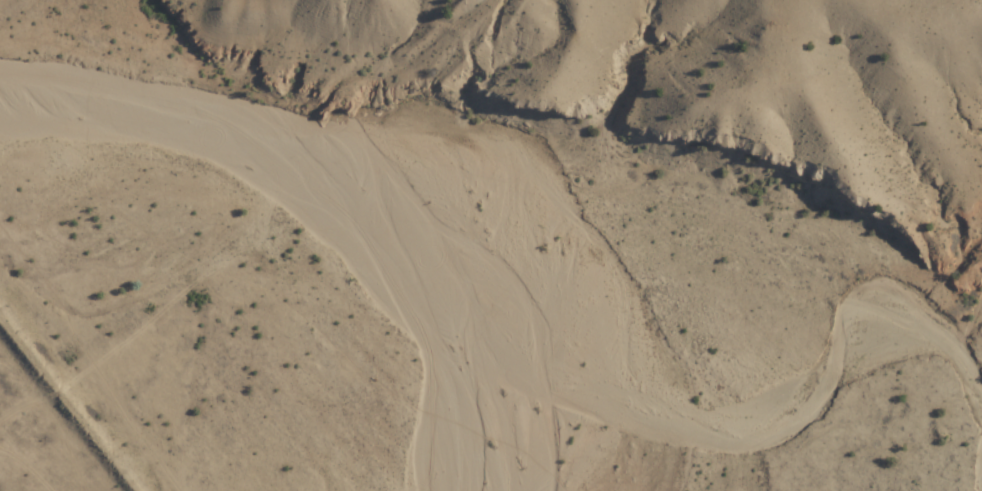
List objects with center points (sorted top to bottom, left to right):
river: (400, 190)

